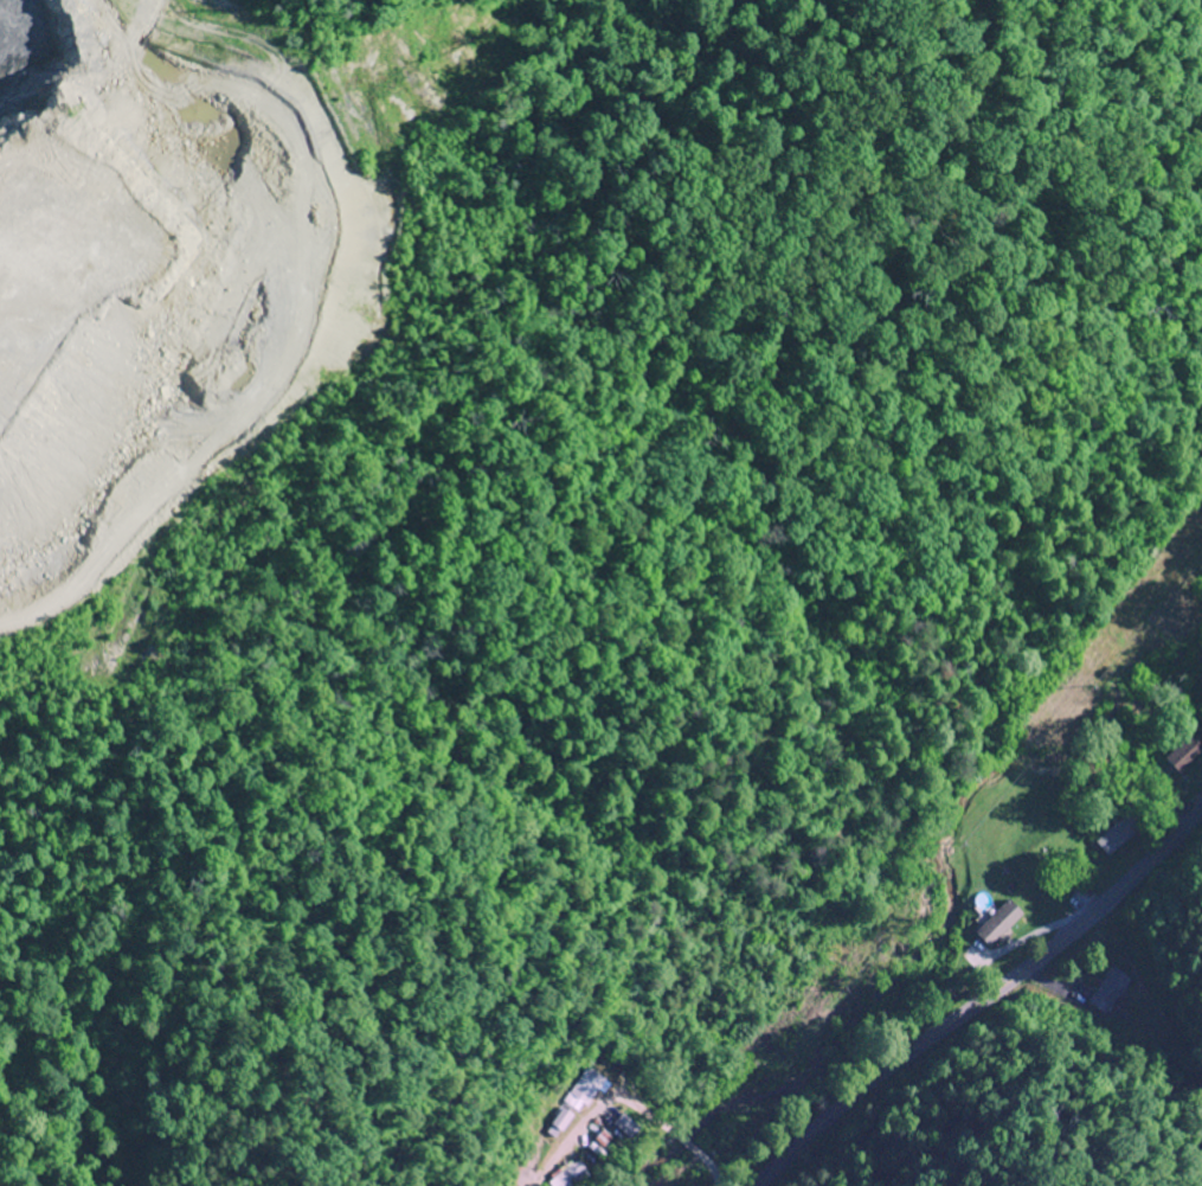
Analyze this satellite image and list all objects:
building: (1184, 754)
building: (1119, 834)
building: (999, 924)
building: (1108, 992)
road: (983, 1000)
building: (583, 1090)
building: (558, 1123)
building: (583, 1156)

